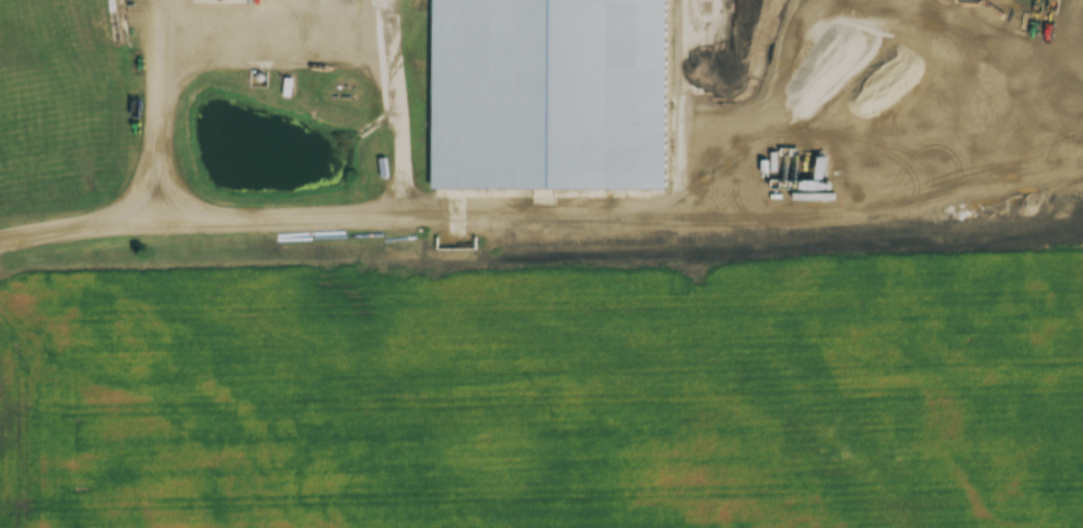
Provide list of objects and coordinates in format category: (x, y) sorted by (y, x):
building: (554, 95)

